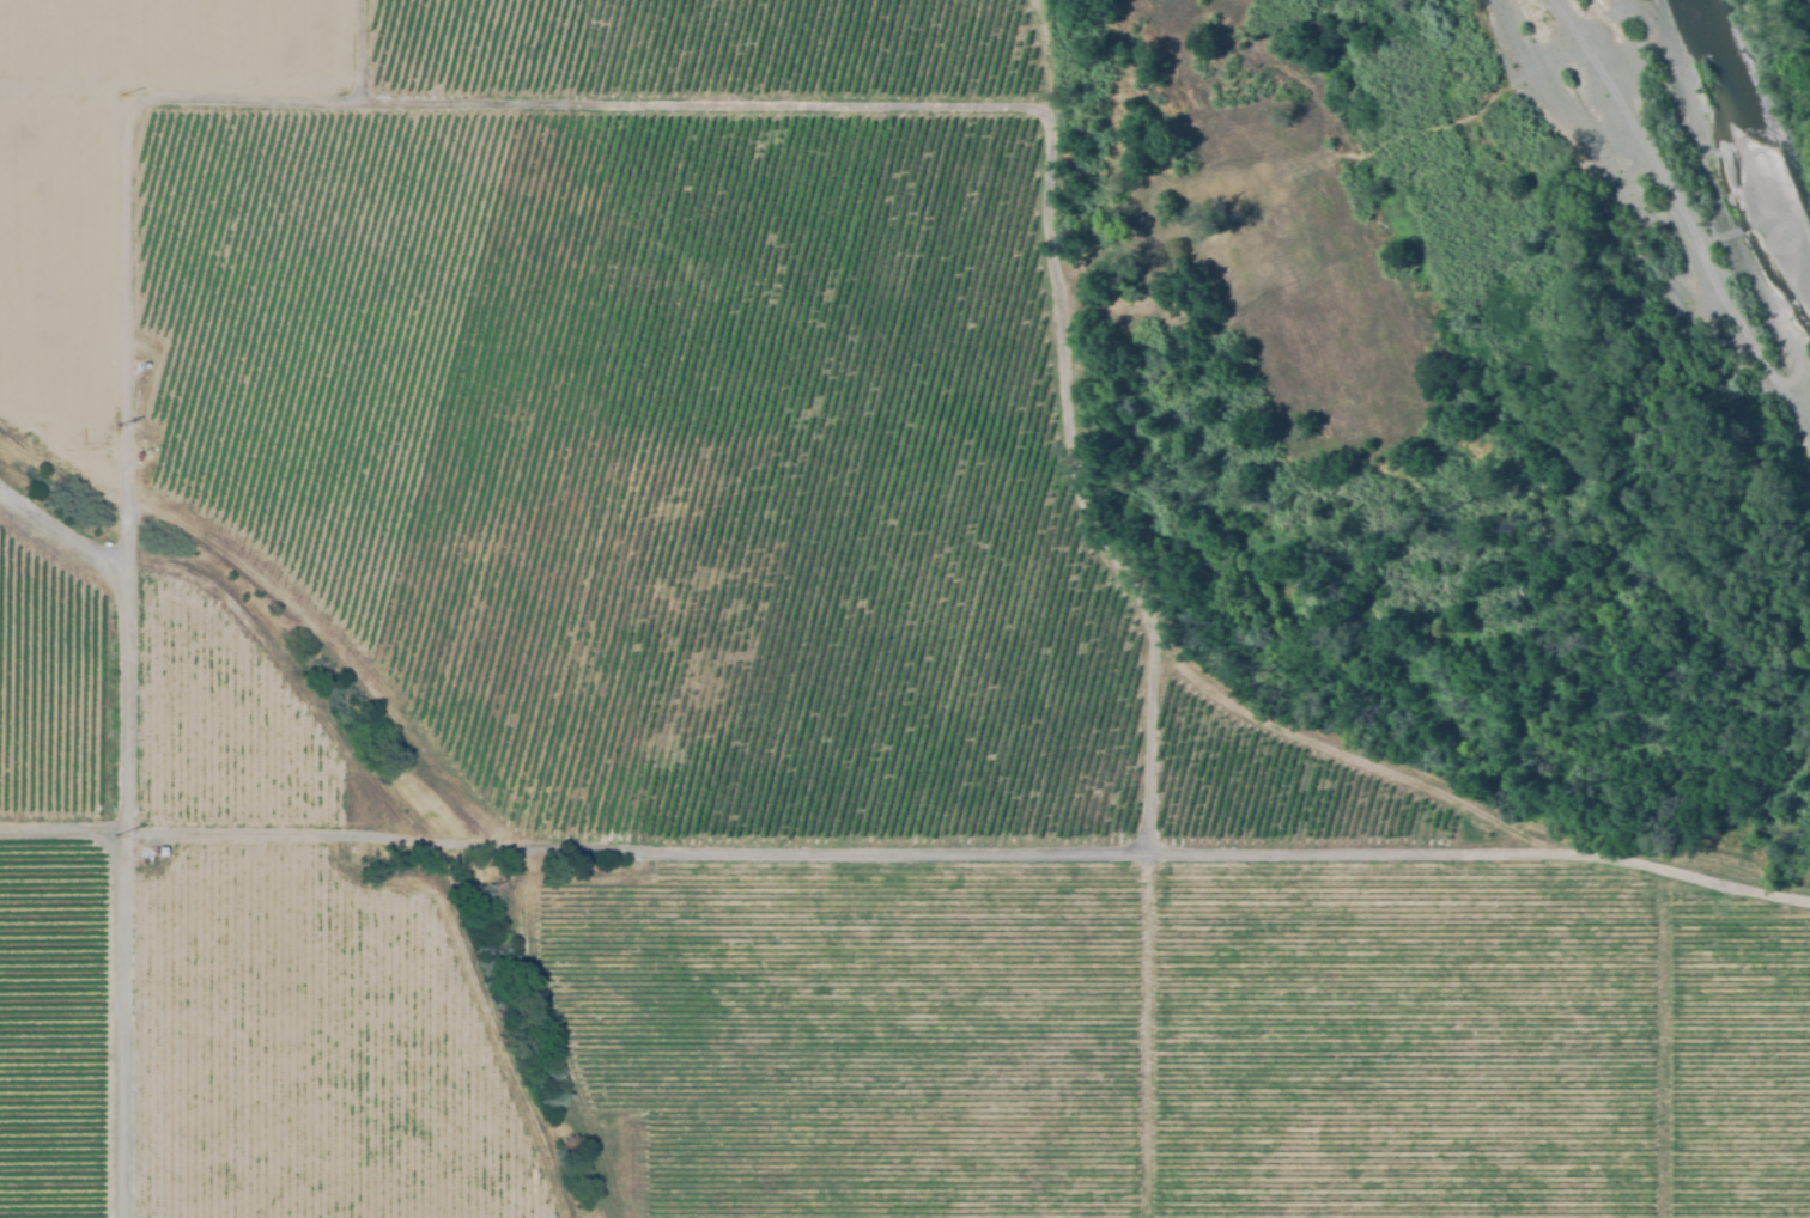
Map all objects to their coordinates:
road: (1622, 103)
road: (1057, 179)
river: (1754, 207)
road: (66, 530)
road: (1483, 849)
building: (157, 851)
road: (126, 1022)

